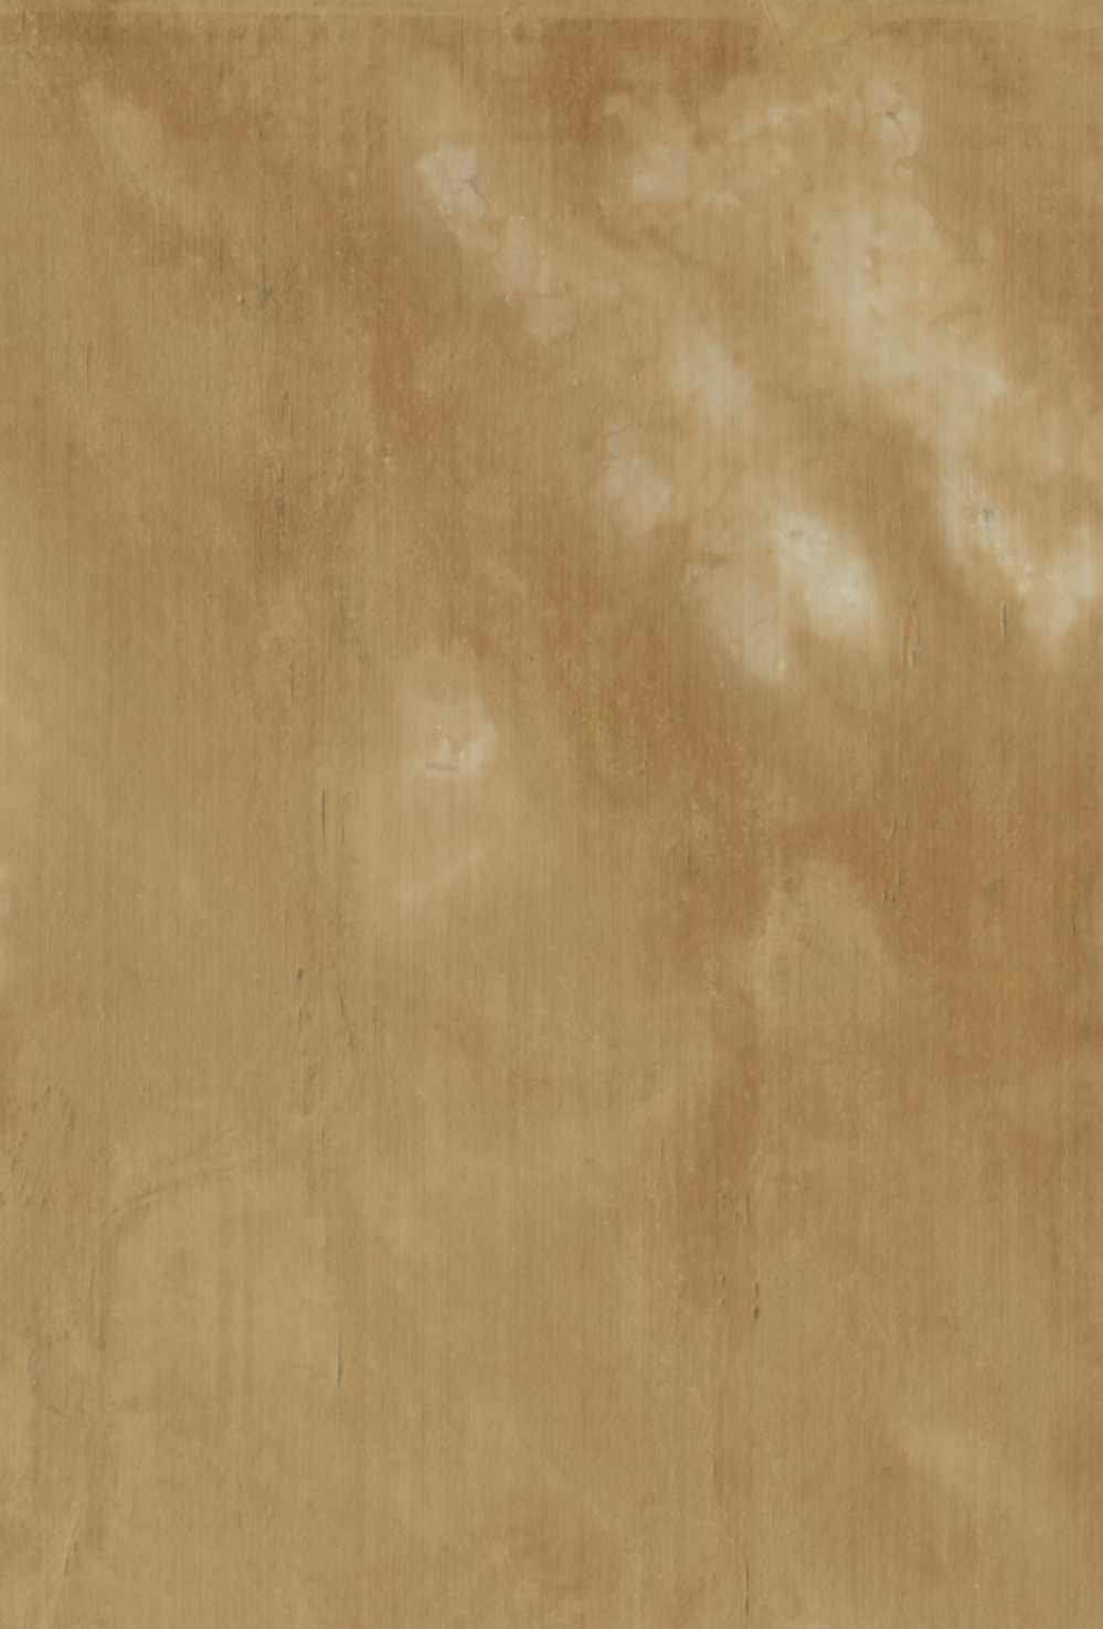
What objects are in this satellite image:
crop: (551, 815)

